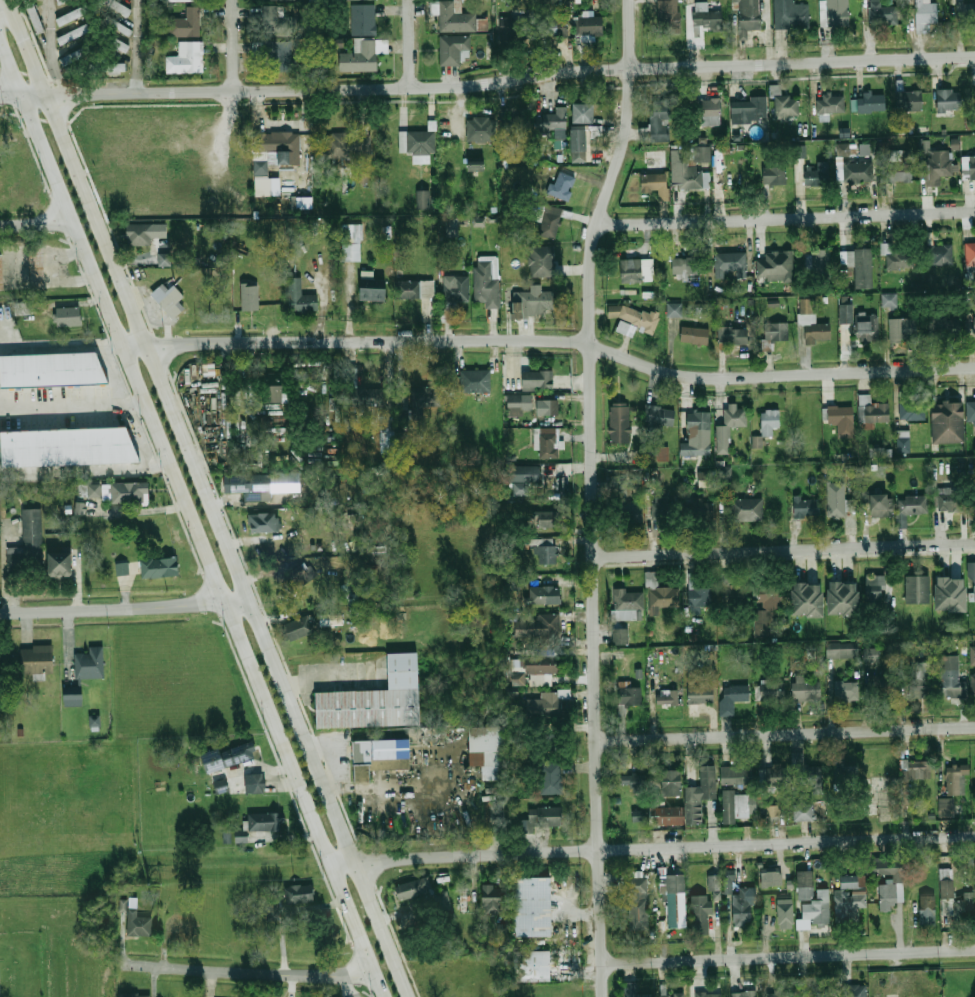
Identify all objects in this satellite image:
building: (180, 0)
building: (288, 0)
building: (349, 0)
building: (576, 1)
road: (48, 6)
building: (118, 6)
building: (966, 11)
road: (6, 12)
building: (834, 12)
building: (881, 12)
building: (747, 14)
building: (791, 14)
building: (926, 14)
building: (73, 15)
building: (669, 15)
building: (455, 17)
building: (706, 17)
building: (35, 18)
building: (365, 18)
building: (276, 22)
building: (187, 23)
building: (117, 25)
building: (553, 25)
building: (589, 25)
building: (517, 27)
building: (74, 34)
road: (24, 38)
traffic signals: (24, 38)
road: (33, 39)
building: (119, 44)
road: (411, 44)
road: (235, 46)
road: (136, 47)
building: (454, 48)
building: (79, 55)
building: (280, 56)
building: (363, 56)
building: (187, 57)
building: (116, 67)
road: (36, 76)
road: (487, 81)
road: (490, 96)
building: (948, 100)
building: (908, 101)
building: (871, 102)
building: (832, 104)
building: (786, 106)
building: (586, 108)
building: (748, 108)
building: (705, 112)
building: (551, 122)
building: (516, 124)
building: (656, 127)
building: (481, 128)
building: (578, 141)
building: (279, 143)
building: (418, 144)
building: (348, 145)
building: (842, 149)
building: (864, 149)
building: (800, 151)
building: (475, 165)
building: (898, 166)
building: (938, 166)
building: (969, 167)
building: (655, 169)
building: (691, 169)
building: (854, 171)
building: (773, 174)
building: (815, 175)
building: (732, 177)
building: (655, 184)
building: (560, 185)
building: (424, 198)
building: (301, 202)
road: (786, 219)
building: (550, 220)
road: (36, 225)
building: (451, 227)
building: (144, 232)
building: (353, 242)
building: (970, 253)
building: (939, 255)
building: (897, 258)
building: (164, 259)
building: (541, 261)
building: (730, 263)
building: (819, 263)
building: (35, 264)
building: (687, 265)
building: (775, 267)
building: (863, 268)
building: (631, 270)
road: (61, 271)
building: (0, 272)
building: (487, 280)
building: (414, 284)
building: (374, 286)
building: (456, 288)
building: (250, 297)
building: (301, 298)
building: (892, 298)
building: (169, 299)
building: (533, 302)
building: (674, 310)
building: (845, 313)
building: (68, 316)
building: (638, 318)
building: (812, 323)
building: (974, 323)
building: (867, 326)
building: (945, 326)
building: (903, 328)
building: (776, 331)
building: (694, 335)
building: (733, 336)
road: (550, 340)
road: (54, 346)
building: (53, 369)
building: (349, 377)
building: (525, 379)
building: (475, 380)
building: (272, 394)
building: (362, 397)
building: (425, 399)
road: (71, 401)
building: (518, 404)
building: (549, 406)
building: (873, 410)
building: (911, 410)
building: (948, 413)
building: (971, 413)
building: (839, 414)
building: (658, 417)
building: (351, 422)
building: (770, 422)
building: (619, 423)
building: (728, 428)
building: (700, 430)
building: (386, 434)
building: (903, 440)
building: (547, 441)
building: (756, 441)
building: (67, 445)
building: (876, 452)
building: (889, 452)
building: (662, 453)
building: (844, 457)
road: (83, 466)
building: (873, 468)
building: (888, 468)
building: (521, 473)
building: (705, 479)
building: (725, 479)
building: (241, 484)
building: (520, 489)
building: (89, 490)
building: (129, 493)
road: (593, 495)
building: (836, 499)
building: (949, 500)
building: (974, 500)
building: (808, 502)
building: (627, 503)
building: (880, 505)
building: (911, 506)
building: (78, 507)
building: (746, 509)
building: (700, 510)
building: (663, 514)
building: (548, 518)
building: (266, 523)
road: (190, 524)
road: (224, 537)
building: (29, 543)
building: (545, 550)
road: (784, 550)
road: (783, 557)
building: (62, 564)
building: (160, 567)
building: (120, 569)
building: (301, 573)
building: (972, 580)
building: (920, 585)
building: (874, 588)
building: (772, 590)
building: (733, 591)
building: (952, 591)
building: (350, 595)
building: (545, 595)
building: (810, 595)
building: (846, 595)
building: (700, 596)
building: (661, 597)
building: (629, 599)
road: (125, 608)
building: (512, 616)
building: (767, 623)
building: (299, 628)
building: (542, 629)
building: (621, 636)
building: (842, 649)
building: (871, 654)
building: (972, 655)
building: (38, 659)
building: (544, 660)
building: (90, 663)
building: (922, 670)
building: (638, 673)
building: (950, 675)
building: (518, 678)
building: (972, 684)
building: (882, 687)
building: (919, 687)
building: (770, 690)
building: (805, 690)
building: (846, 691)
building: (699, 693)
building: (667, 695)
building: (629, 696)
building: (733, 697)
building: (75, 699)
building: (378, 699)
building: (548, 702)
building: (93, 719)
road: (786, 735)
building: (491, 747)
building: (239, 754)
building: (382, 755)
building: (916, 769)
building: (807, 774)
building: (735, 776)
building: (771, 777)
building: (549, 778)
building: (633, 778)
building: (847, 778)
building: (957, 779)
building: (671, 782)
building: (256, 783)
building: (221, 786)
building: (700, 794)
building: (654, 799)
building: (734, 806)
building: (946, 807)
building: (772, 810)
building: (804, 811)
building: (638, 814)
building: (666, 814)
building: (543, 816)
building: (264, 822)
road: (653, 849)
building: (770, 876)
building: (728, 881)
building: (714, 886)
building: (409, 890)
building: (299, 894)
building: (676, 895)
building: (887, 897)
building: (491, 898)
building: (637, 900)
building: (810, 900)
building: (956, 900)
building: (442, 901)
building: (745, 905)
building: (848, 905)
building: (927, 905)
building: (534, 906)
building: (271, 912)
building: (784, 913)
building: (700, 915)
building: (139, 924)
building: (181, 929)
road: (789, 957)
building: (533, 965)
road: (247, 971)
building: (632, 990)
building: (854, 990)
building: (820, 991)
building: (560, 994)
building: (673, 994)
building: (708, 994)
building: (744, 994)
building: (781, 994)
building: (135, 995)

